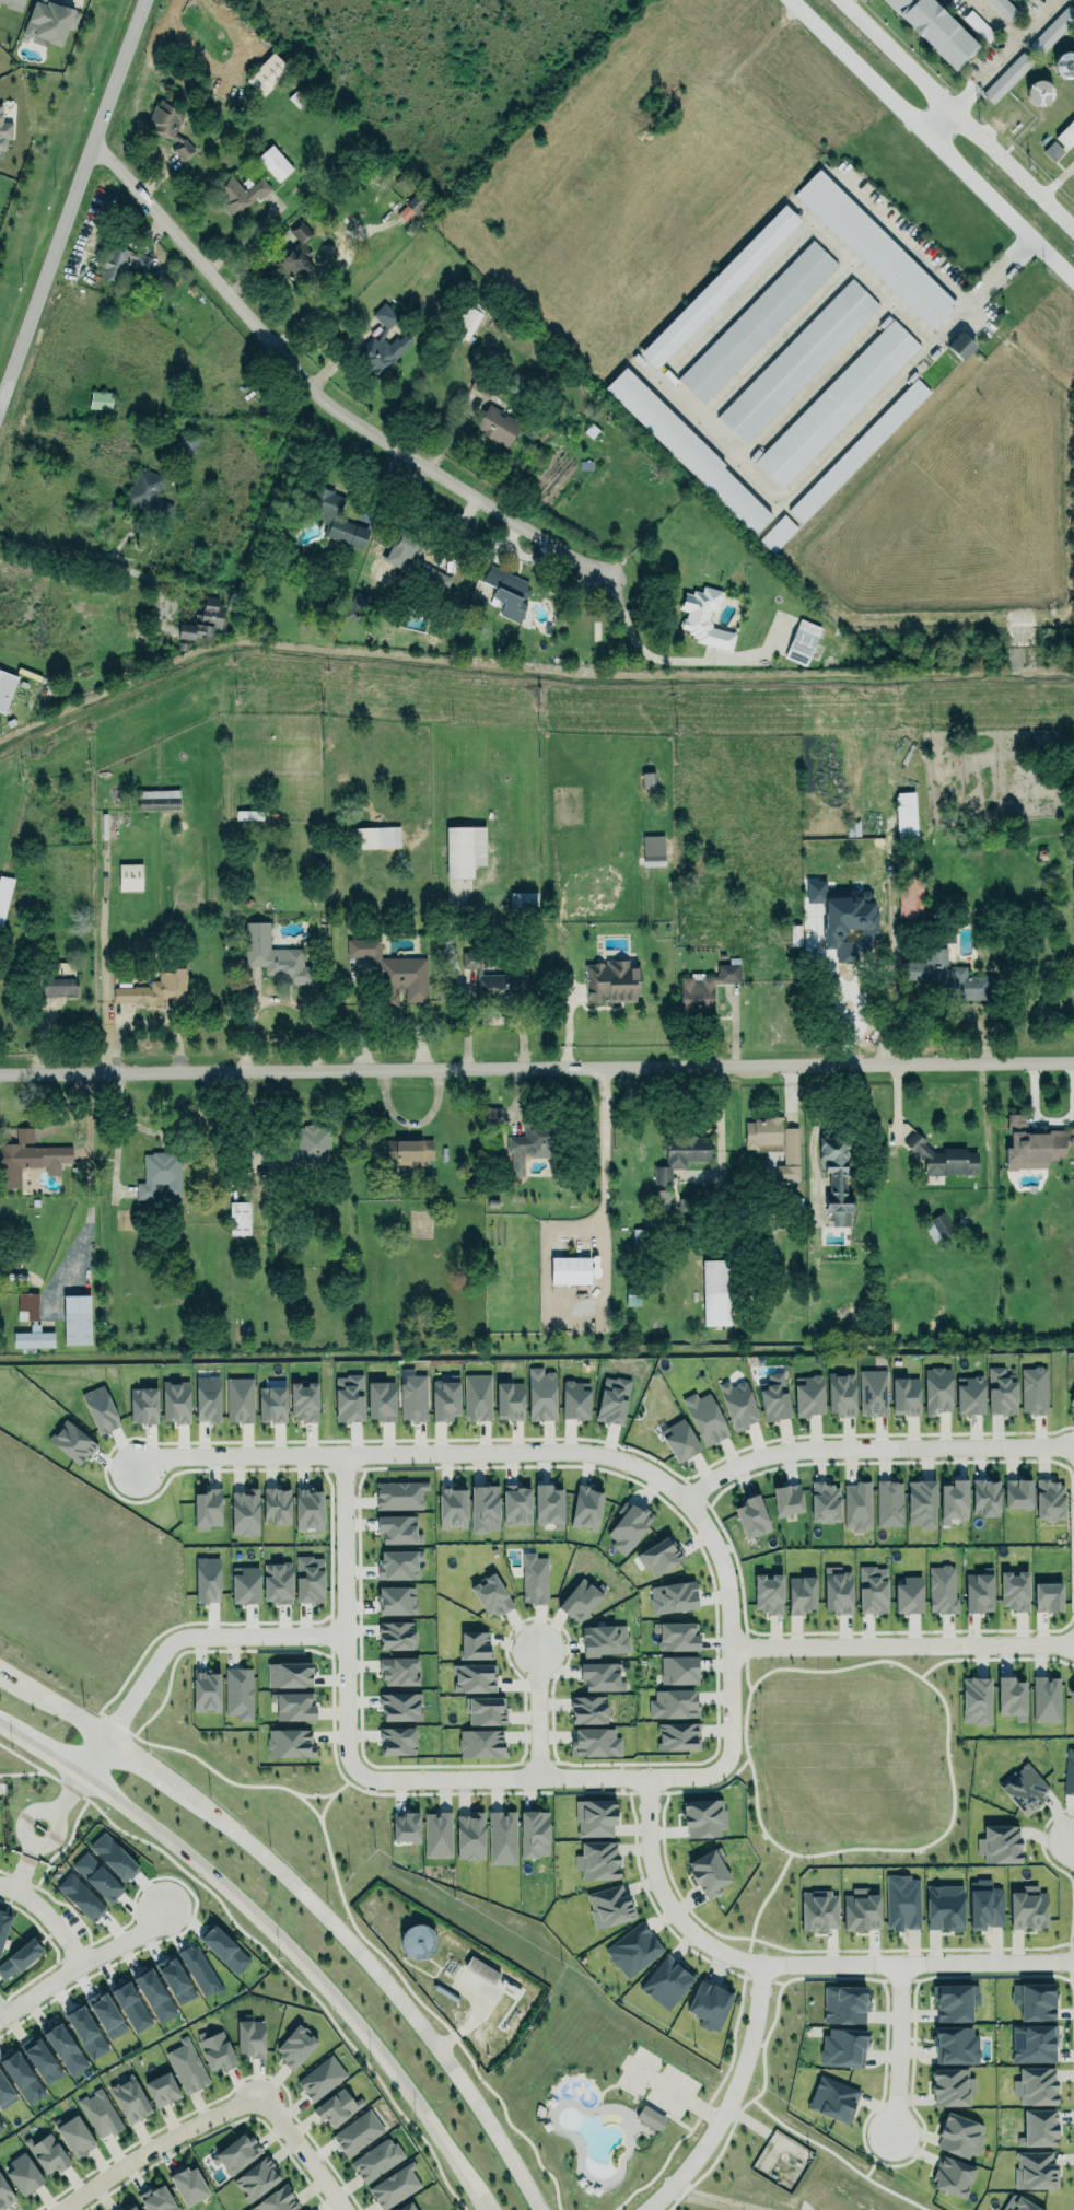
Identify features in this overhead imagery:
building: (13, 3)
building: (1003, 8)
building: (49, 21)
road: (996, 21)
building: (936, 30)
building: (1051, 31)
road: (247, 42)
road: (1012, 48)
building: (1063, 65)
building: (266, 74)
building: (1006, 78)
building: (1039, 93)
road: (944, 115)
road: (957, 117)
building: (170, 126)
building: (4, 131)
building: (1066, 135)
road: (932, 139)
building: (1052, 151)
building: (275, 160)
road: (1055, 183)
building: (241, 189)
road: (72, 203)
building: (874, 247)
building: (295, 254)
building: (122, 263)
road: (930, 268)
building: (719, 287)
building: (384, 315)
building: (757, 321)
building: (467, 323)
building: (960, 345)
building: (378, 352)
building: (796, 361)
road: (323, 394)
road: (679, 399)
building: (837, 403)
building: (497, 426)
building: (187, 438)
building: (859, 450)
building: (688, 451)
building: (145, 490)
building: (332, 515)
building: (777, 533)
road: (83, 561)
building: (435, 578)
building: (506, 588)
building: (703, 617)
building: (202, 619)
building: (802, 641)
road: (640, 647)
building: (5, 689)
building: (647, 779)
building: (157, 799)
building: (904, 814)
building: (374, 837)
building: (464, 850)
building: (652, 850)
building: (129, 876)
building: (3, 896)
building: (910, 897)
building: (523, 902)
building: (275, 953)
building: (392, 970)
building: (947, 975)
road: (459, 978)
building: (611, 979)
building: (493, 982)
building: (155, 986)
building: (58, 987)
building: (704, 989)
road: (931, 1010)
road: (514, 1022)
road: (537, 1066)
building: (492, 1115)
building: (764, 1132)
building: (1035, 1142)
building: (312, 1143)
building: (528, 1145)
building: (408, 1151)
building: (681, 1154)
building: (790, 1155)
building: (28, 1158)
building: (943, 1158)
road: (604, 1161)
building: (160, 1174)
building: (836, 1179)
building: (659, 1199)
building: (238, 1218)
building: (937, 1226)
building: (569, 1270)
building: (715, 1292)
building: (26, 1306)
building: (75, 1319)
building: (33, 1338)
building: (1034, 1387)
building: (936, 1389)
building: (840, 1391)
building: (872, 1391)
building: (1001, 1391)
building: (969, 1392)
building: (540, 1394)
building: (808, 1394)
building: (348, 1395)
building: (412, 1396)
building: (773, 1396)
building: (904, 1396)
building: (477, 1397)
building: (1071, 1397)
building: (207, 1398)
building: (445, 1398)
building: (509, 1398)
building: (611, 1398)
building: (238, 1399)
building: (574, 1399)
building: (270, 1400)
building: (381, 1400)
building: (175, 1401)
building: (303, 1401)
building: (735, 1403)
building: (142, 1406)
building: (100, 1409)
building: (703, 1415)
building: (679, 1436)
building: (72, 1442)
road: (873, 1447)
road: (431, 1453)
building: (1017, 1493)
building: (400, 1494)
building: (984, 1497)
building: (824, 1499)
building: (786, 1500)
building: (1049, 1500)
building: (953, 1501)
building: (855, 1503)
building: (888, 1503)
building: (921, 1503)
building: (547, 1504)
building: (586, 1504)
building: (277, 1505)
building: (452, 1505)
building: (516, 1505)
building: (483, 1508)
building: (207, 1509)
building: (308, 1509)
building: (244, 1512)
building: (751, 1516)
building: (396, 1525)
building: (627, 1526)
building: (659, 1556)
building: (398, 1565)
building: (206, 1578)
building: (533, 1578)
building: (308, 1579)
building: (277, 1583)
building: (244, 1585)
building: (871, 1585)
building: (1014, 1587)
building: (942, 1589)
building: (767, 1590)
building: (837, 1590)
building: (978, 1592)
building: (801, 1593)
building: (908, 1595)
building: (490, 1596)
building: (580, 1596)
building: (1047, 1596)
building: (673, 1597)
building: (396, 1601)
road: (728, 1627)
road: (342, 1631)
building: (396, 1636)
building: (676, 1636)
building: (604, 1639)
road: (177, 1641)
building: (474, 1644)
road: (901, 1644)
building: (396, 1667)
building: (678, 1670)
building: (288, 1672)
building: (600, 1676)
building: (474, 1678)
building: (206, 1691)
building: (237, 1691)
building: (1011, 1698)
building: (1071, 1698)
building: (1046, 1699)
building: (976, 1700)
building: (673, 1703)
building: (293, 1706)
building: (400, 1707)
building: (587, 1707)
building: (486, 1710)
road: (536, 1713)
building: (677, 1736)
building: (593, 1740)
building: (397, 1741)
building: (288, 1742)
building: (480, 1743)
building: (1067, 1769)
road: (558, 1777)
building: (1023, 1786)
road: (65, 1794)
building: (594, 1817)
building: (703, 1817)
building: (405, 1824)
road: (23, 1827)
building: (437, 1834)
building: (534, 1834)
building: (469, 1836)
building: (501, 1837)
building: (596, 1857)
building: (707, 1869)
building: (96, 1877)
road: (3, 1887)
road: (665, 1896)
building: (80, 1897)
road: (312, 1897)
building: (902, 1903)
building: (984, 1905)
building: (609, 1906)
building: (860, 1907)
building: (944, 1907)
building: (1028, 1908)
building: (819, 1910)
road: (276, 1933)
road: (58, 1939)
building: (417, 1941)
building: (632, 1950)
building: (20, 1957)
road: (918, 1963)
building: (480, 1970)
building: (666, 1981)
road: (35, 1985)
building: (154, 1993)
building: (954, 1998)
building: (843, 2001)
building: (1034, 2001)
building: (709, 2004)
building: (131, 2007)
road: (0, 2008)
building: (105, 2014)
building: (85, 2032)
building: (250, 2035)
building: (1032, 2044)
building: (843, 2045)
road: (900, 2045)
building: (955, 2045)
building: (295, 2046)
building: (65, 2049)
building: (215, 2049)
building: (40, 2059)
building: (187, 2064)
building: (322, 2077)
building: (22, 2078)
building: (1036, 2085)
building: (952, 2086)
building: (162, 2089)
building: (5, 2091)
road: (676, 2093)
building: (129, 2099)
building: (832, 2099)
road: (729, 2101)
building: (336, 2107)
building: (100, 2113)
building: (650, 2117)
building: (1038, 2124)
building: (0, 2126)
building: (959, 2130)
building: (359, 2131)
building: (74, 2136)
road: (151, 2141)
road: (308, 2144)
building: (236, 2152)
building: (48, 2154)
building: (376, 2160)
building: (1035, 2170)
building: (23, 2171)
building: (257, 2177)
building: (953, 2177)
building: (189, 2185)
building: (395, 2186)
building: (4, 2195)
building: (156, 2199)
building: (276, 2201)
building: (1018, 2203)
building: (128, 2207)
building: (406, 2207)

